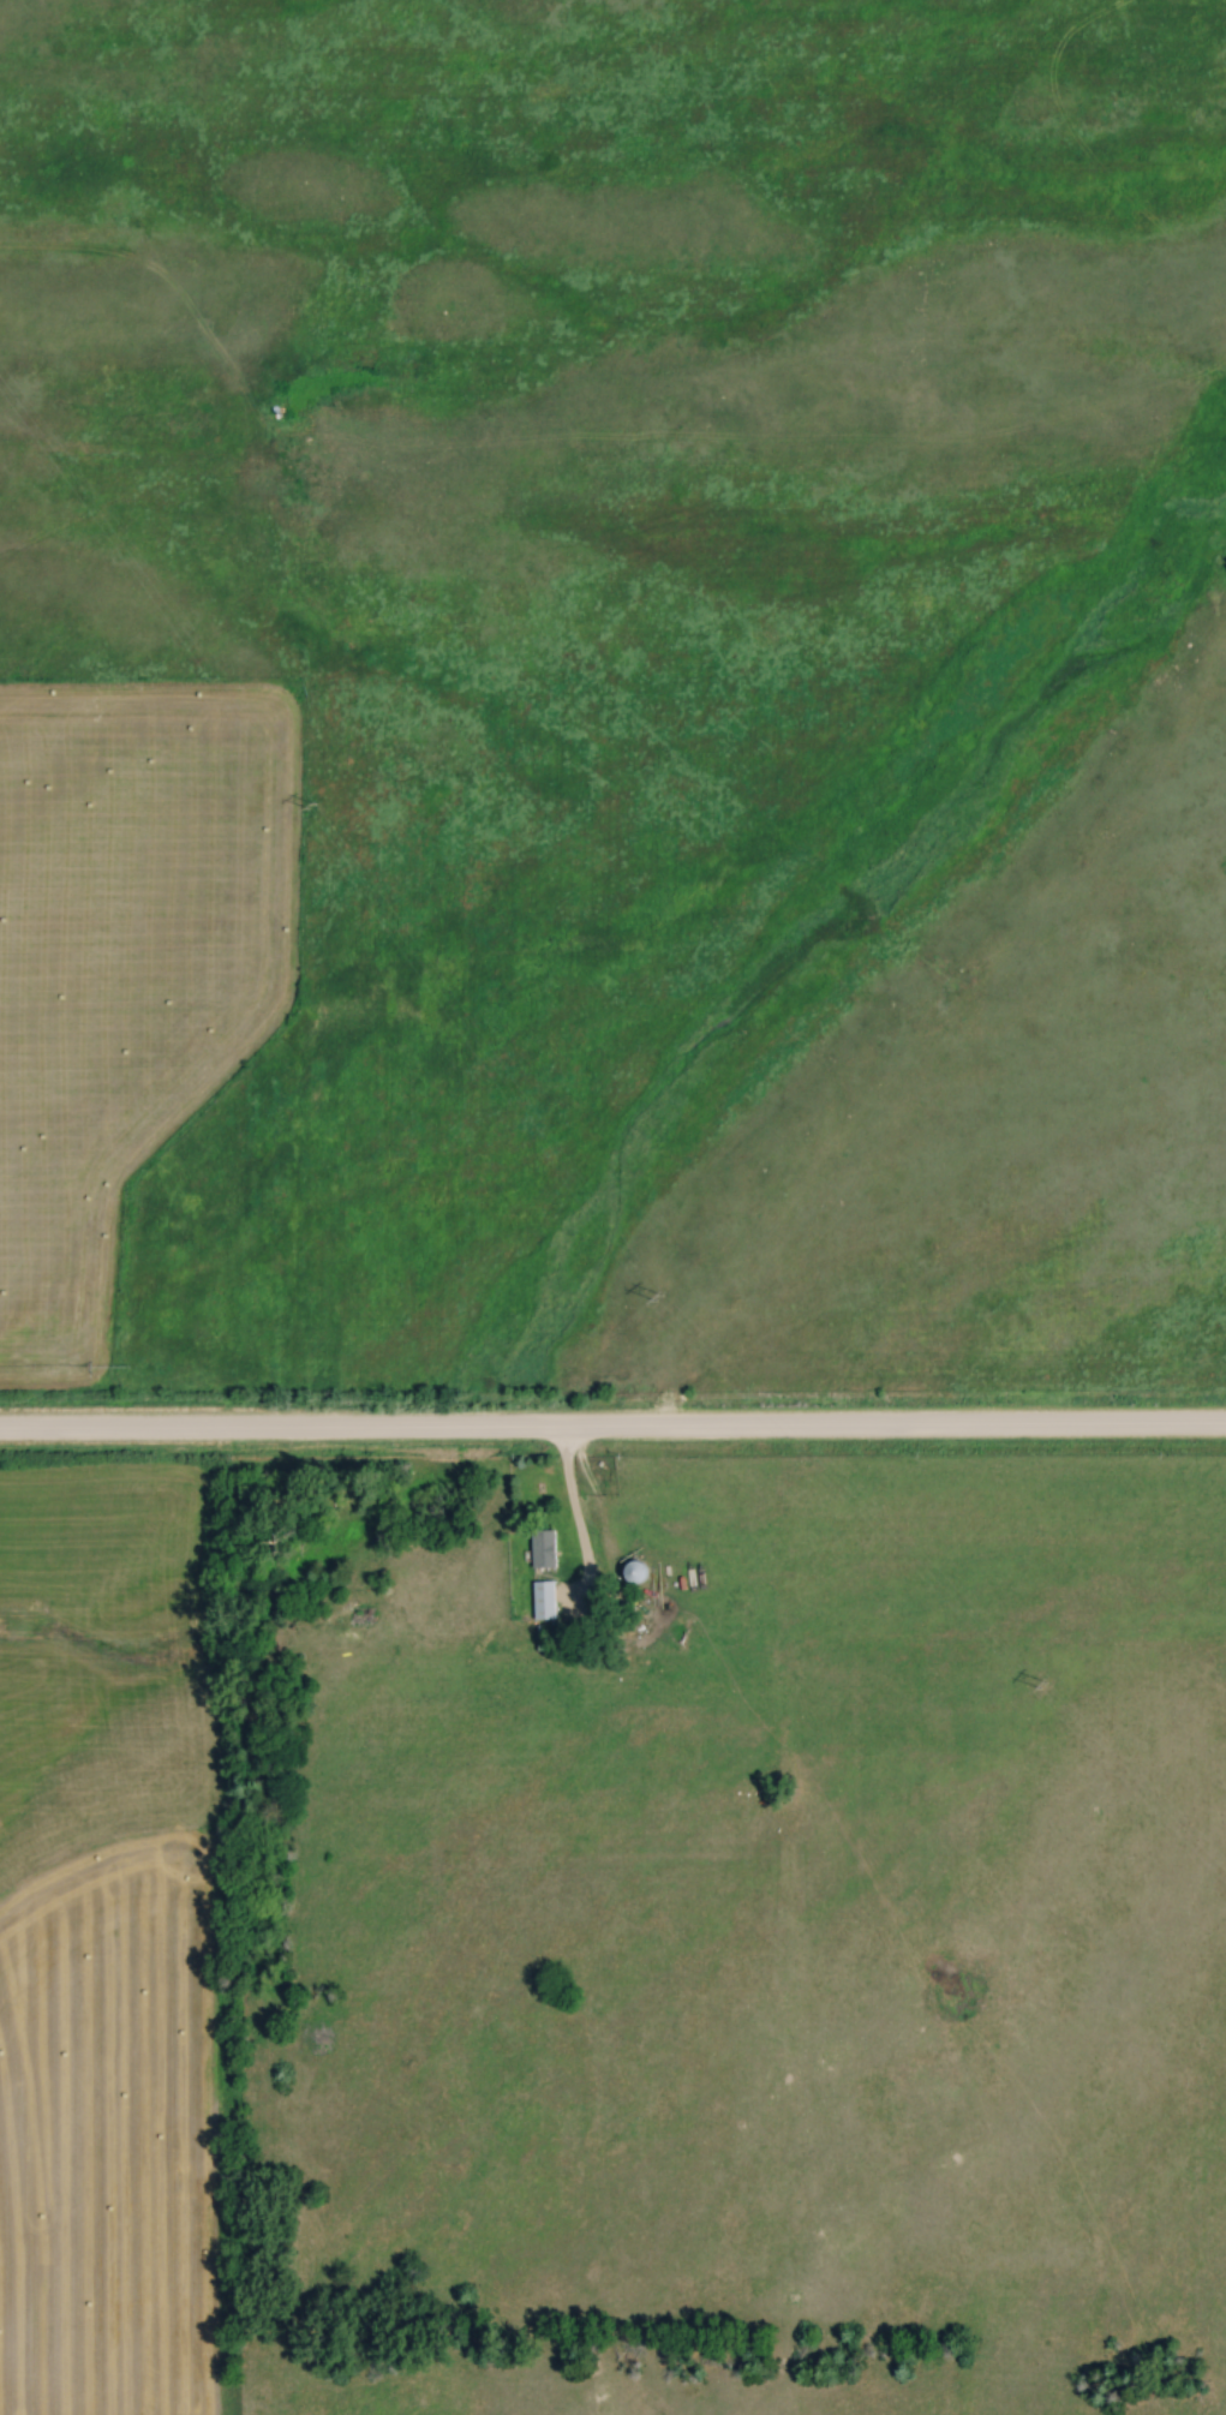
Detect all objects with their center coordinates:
road: (612, 1431)
road: (572, 1512)
building: (543, 1550)
building: (636, 1572)
building: (543, 1600)

